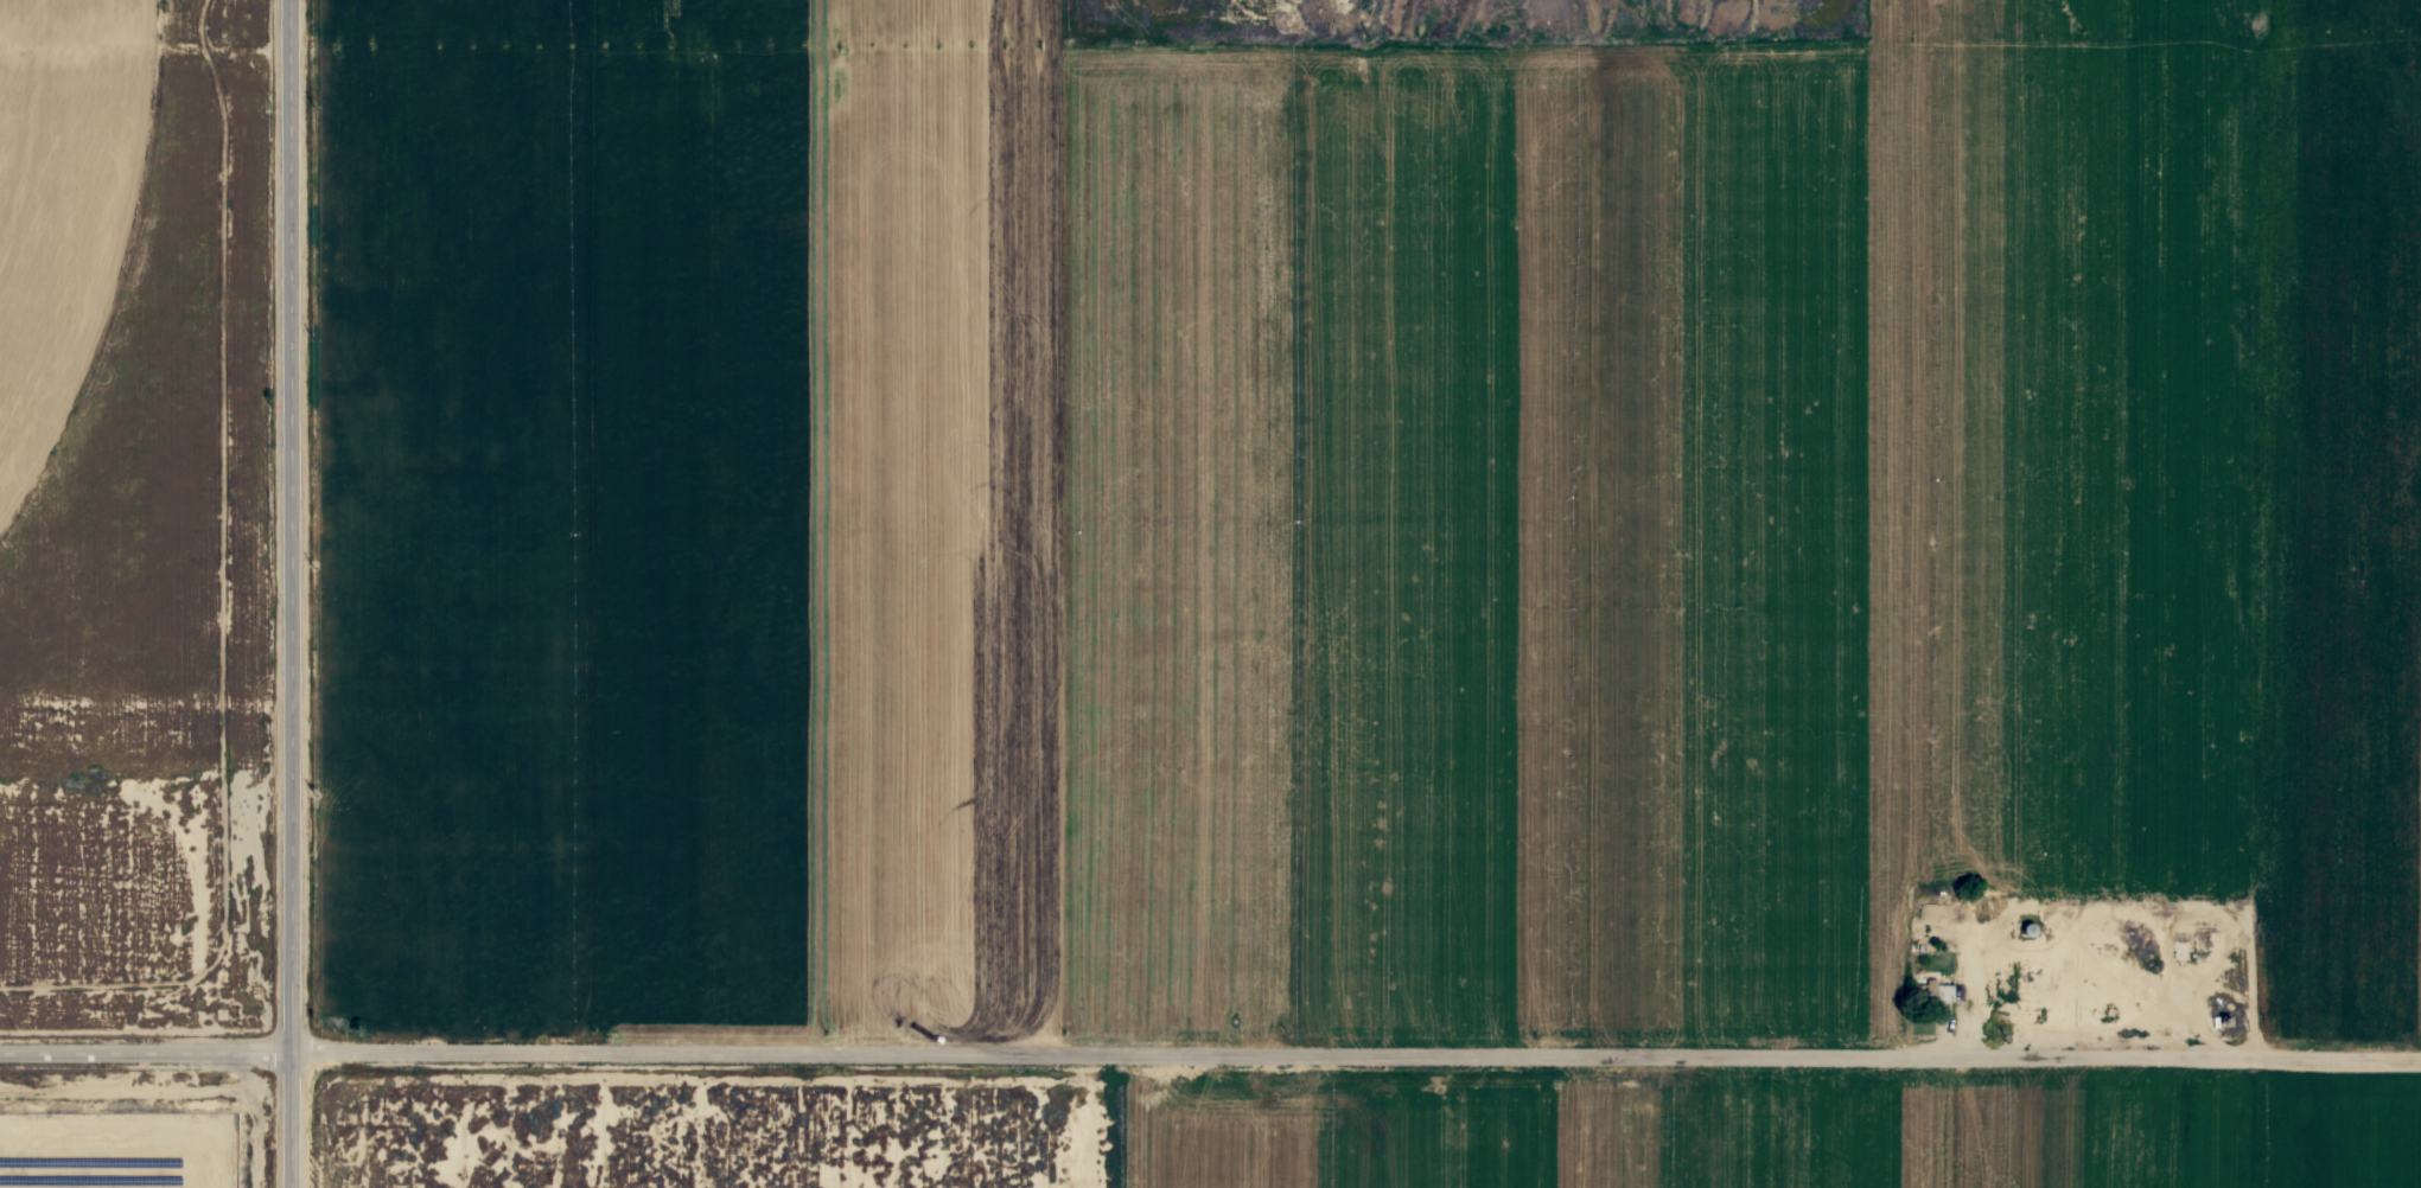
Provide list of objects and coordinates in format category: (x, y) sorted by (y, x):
crop: (60, 200)
crop: (1326, 526)
road: (286, 593)
building: (1930, 992)
road: (1352, 1059)
road: (141, 1060)
crop: (1766, 1133)
solar farm: (116, 1156)

